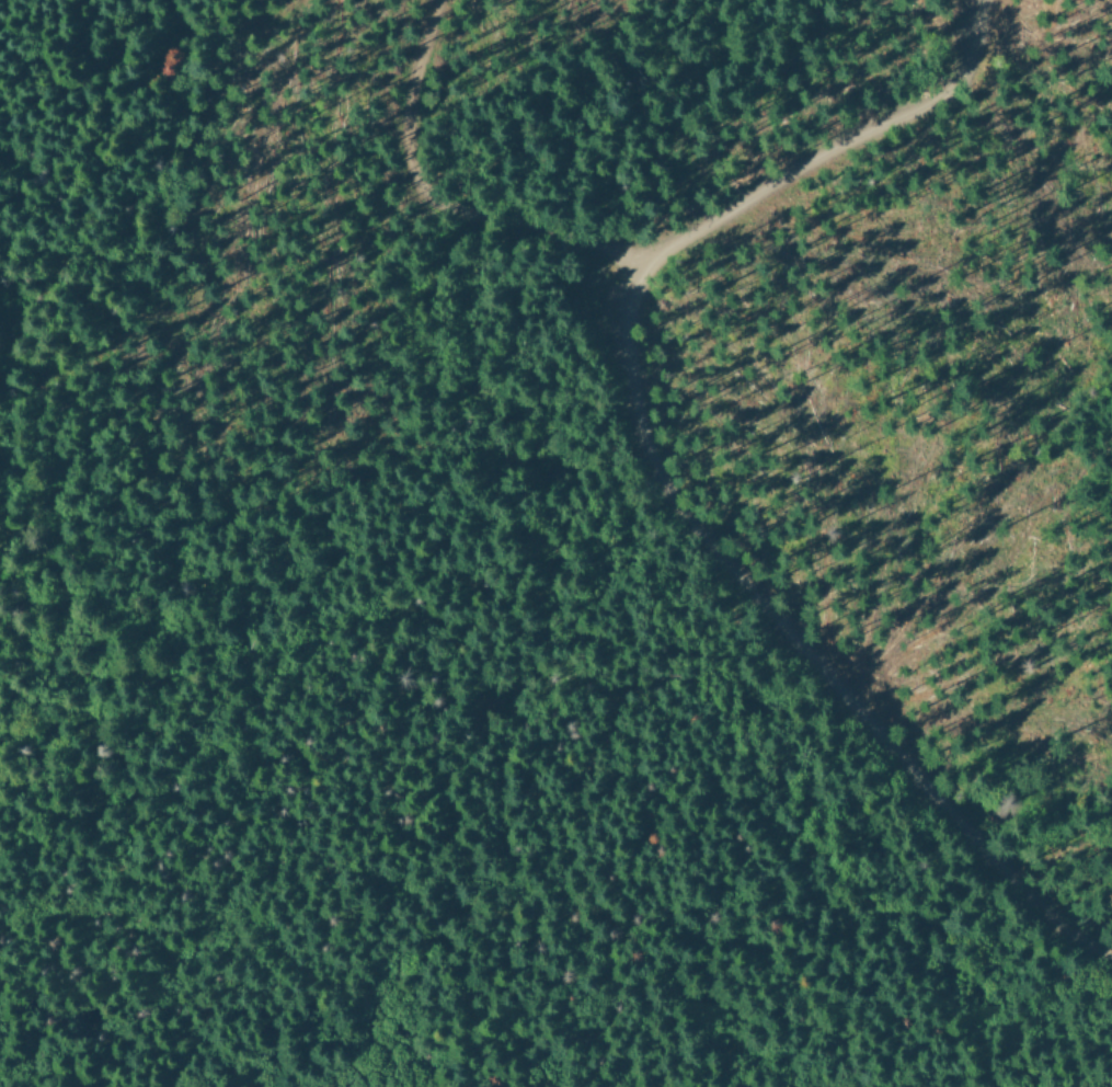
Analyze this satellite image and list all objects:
road: (444, 207)
road: (654, 476)

